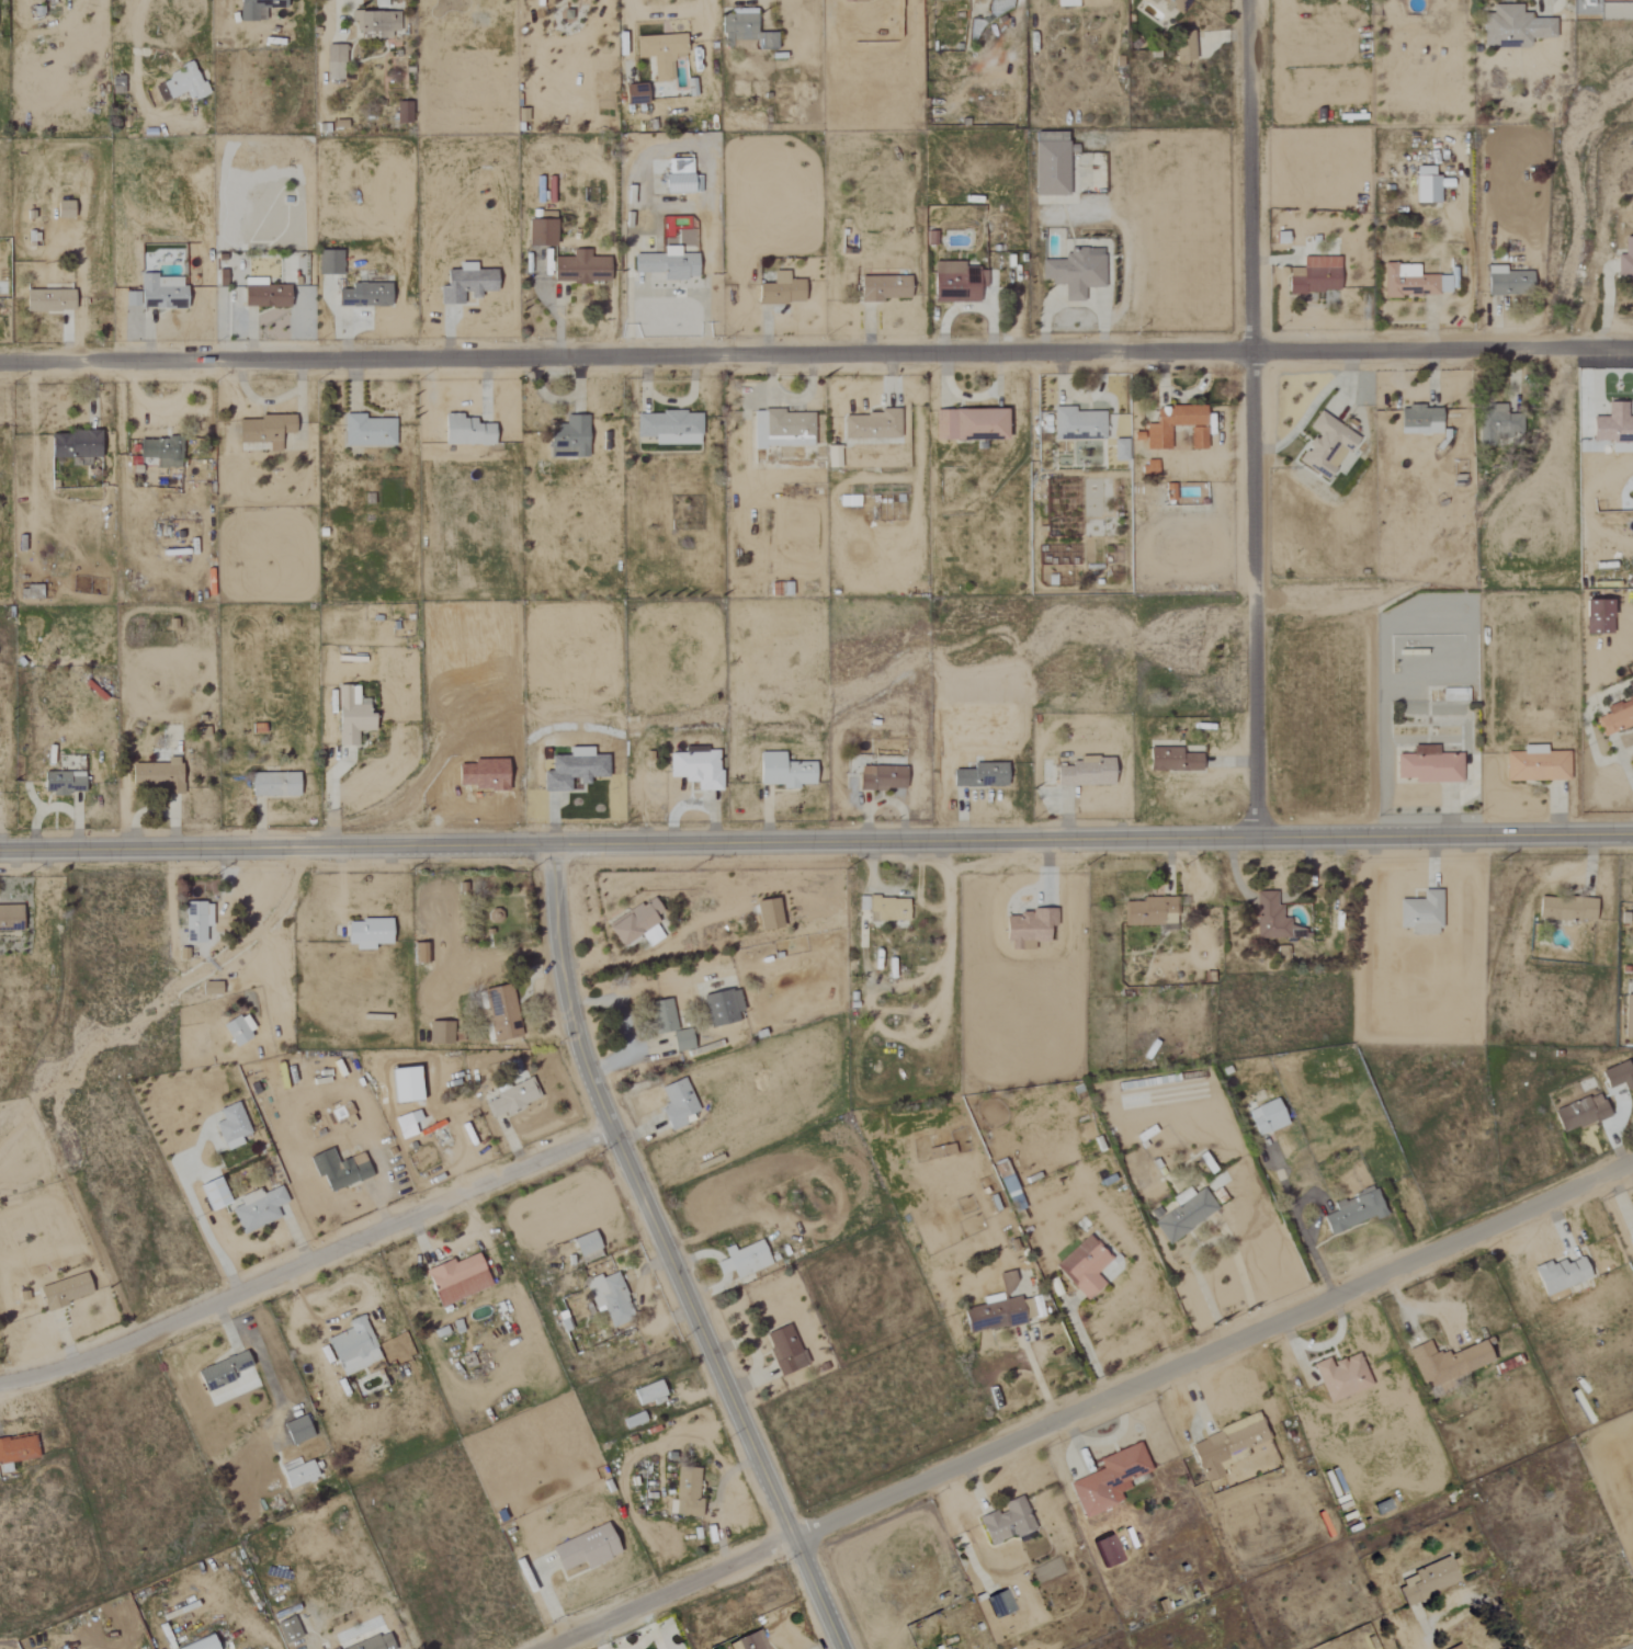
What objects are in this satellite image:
building: (854, 1)
building: (378, 3)
building: (1171, 4)
building: (256, 9)
road: (669, 10)
road: (1550, 10)
building: (375, 23)
building: (1512, 29)
building: (745, 32)
building: (1184, 46)
building: (660, 54)
building: (333, 62)
road: (133, 67)
building: (182, 83)
building: (115, 84)
building: (633, 94)
building: (402, 113)
building: (1050, 164)
building: (680, 179)
building: (1426, 186)
building: (63, 211)
building: (538, 234)
building: (1625, 259)
building: (328, 263)
building: (666, 264)
building: (579, 269)
building: (1075, 272)
building: (1315, 276)
building: (1413, 282)
building: (1507, 282)
building: (465, 283)
building: (956, 283)
building: (883, 289)
building: (781, 291)
building: (156, 293)
building: (263, 294)
building: (364, 295)
road: (816, 355)
road: (1255, 418)
building: (1419, 420)
building: (1498, 423)
building: (870, 424)
building: (968, 424)
building: (1077, 424)
building: (668, 427)
building: (1613, 428)
building: (781, 429)
building: (263, 430)
building: (366, 431)
building: (465, 431)
building: (1156, 436)
building: (568, 439)
building: (73, 444)
building: (1325, 445)
building: (1119, 450)
building: (160, 451)
building: (832, 457)
building: (1148, 467)
building: (1168, 492)
building: (1596, 616)
building: (350, 715)
building: (1617, 716)
building: (1171, 760)
building: (1535, 764)
building: (1427, 765)
building: (571, 769)
building: (694, 769)
building: (783, 771)
building: (1084, 773)
building: (157, 775)
building: (979, 775)
building: (880, 777)
building: (61, 783)
building: (273, 784)
road: (816, 842)
road: (274, 909)
building: (887, 909)
building: (1566, 909)
building: (1149, 911)
building: (1420, 913)
building: (767, 914)
building: (9, 919)
building: (1272, 919)
building: (195, 921)
building: (635, 924)
building: (1029, 928)
building: (366, 933)
building: (209, 988)
building: (721, 1007)
building: (501, 1013)
building: (661, 1016)
building: (1628, 1017)
road: (625, 1026)
building: (237, 1028)
building: (439, 1033)
building: (680, 1039)
building: (1617, 1077)
building: (402, 1085)
building: (510, 1099)
building: (676, 1103)
building: (1579, 1113)
building: (1266, 1117)
building: (230, 1126)
building: (402, 1126)
building: (946, 1150)
building: (338, 1169)
building: (212, 1194)
building: (257, 1208)
building: (1352, 1212)
building: (1184, 1214)
road: (201, 1224)
road: (1300, 1226)
road: (1205, 1243)
building: (1631, 1243)
building: (586, 1247)
road: (665, 1255)
building: (742, 1260)
road: (306, 1262)
building: (1082, 1266)
building: (1558, 1275)
building: (456, 1280)
building: (1005, 1283)
building: (64, 1290)
building: (609, 1298)
building: (996, 1315)
building: (352, 1347)
building: (783, 1350)
road: (1087, 1350)
building: (1444, 1366)
building: (222, 1372)
building: (1341, 1377)
building: (648, 1395)
road: (1089, 1407)
building: (632, 1421)
building: (296, 1431)
building: (1226, 1446)
building: (18, 1449)
building: (296, 1474)
building: (1108, 1480)
building: (684, 1493)
building: (1006, 1522)
building: (585, 1549)
building: (1105, 1551)
building: (1427, 1582)
road: (1474, 1601)
building: (999, 1604)
building: (287, 1630)
building: (749, 1641)
building: (373, 1642)
building: (197, 1645)
building: (1456, 1647)

